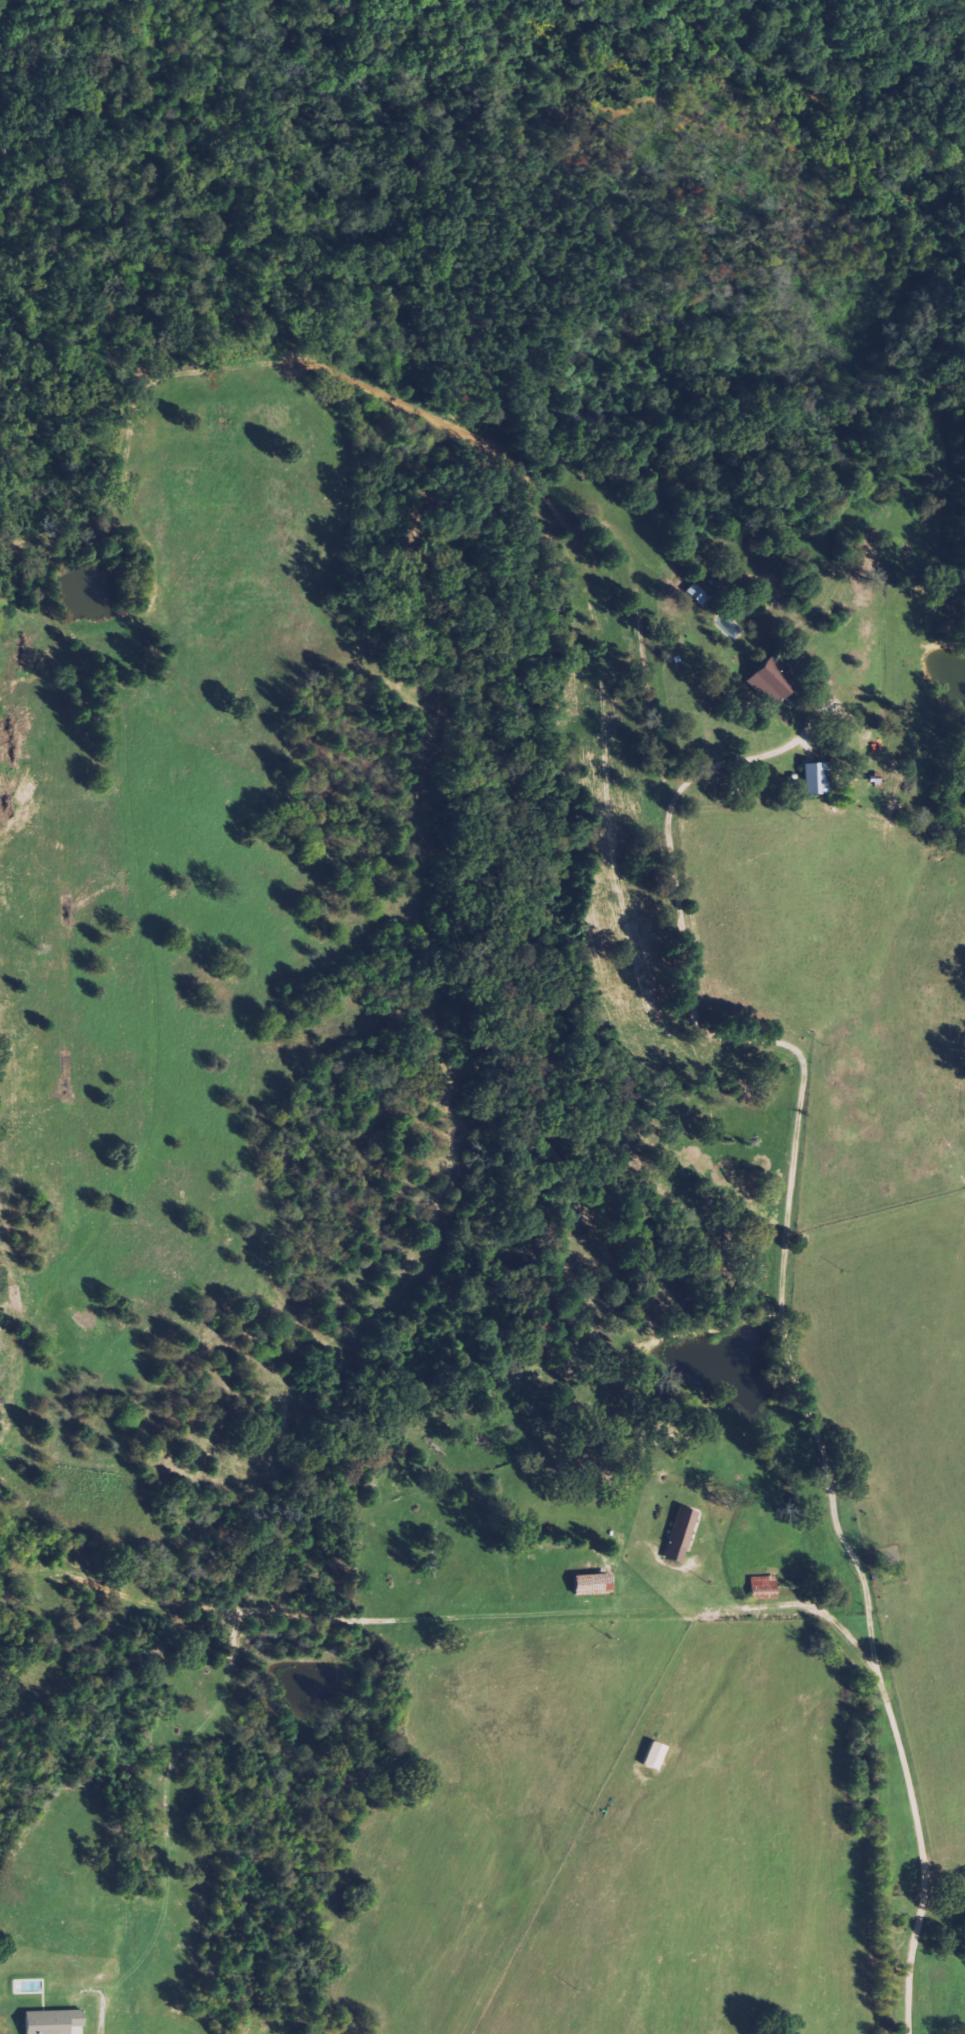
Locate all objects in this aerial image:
building: (764, 678)
building: (813, 778)
building: (678, 1536)
building: (761, 1588)
building: (651, 1757)
building: (55, 2021)

